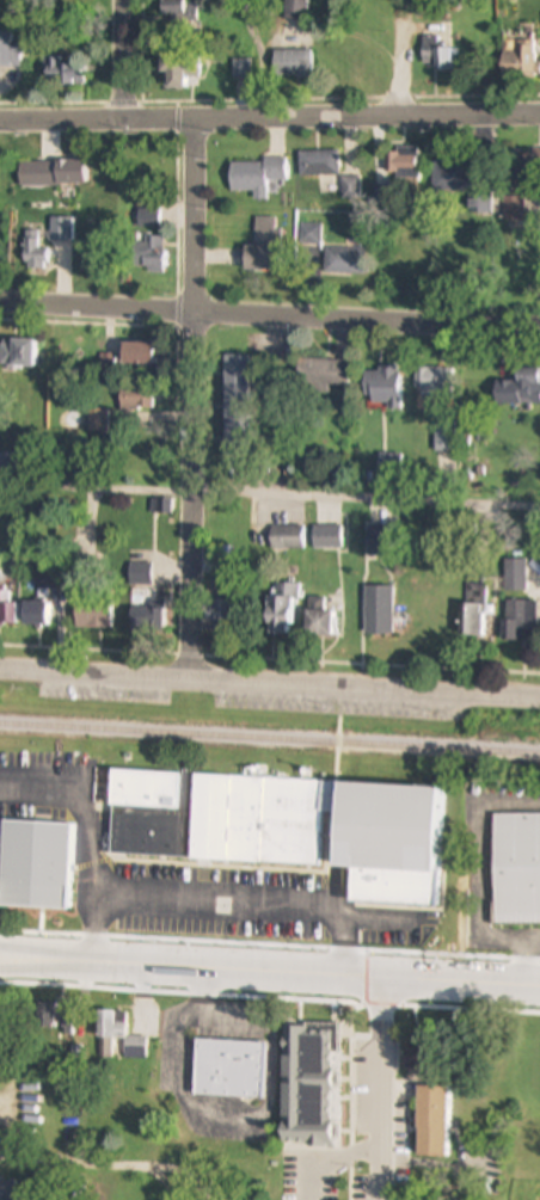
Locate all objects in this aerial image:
building: (180, 13)
building: (10, 50)
building: (438, 54)
road: (119, 60)
road: (406, 60)
building: (520, 62)
building: (293, 66)
building: (179, 68)
building: (66, 72)
road: (269, 117)
building: (319, 164)
building: (399, 167)
building: (51, 174)
building: (257, 176)
building: (452, 177)
building: (480, 205)
building: (513, 210)
building: (148, 220)
building: (61, 230)
building: (265, 247)
building: (309, 248)
building: (33, 252)
building: (148, 256)
building: (345, 261)
road: (270, 314)
building: (19, 353)
building: (136, 356)
building: (320, 375)
building: (434, 386)
building: (237, 387)
building: (382, 387)
building: (521, 389)
building: (136, 400)
road: (194, 400)
building: (98, 421)
building: (446, 441)
road: (269, 496)
building: (327, 537)
building: (288, 539)
building: (376, 541)
building: (140, 576)
building: (515, 576)
building: (50, 579)
building: (7, 609)
building: (282, 610)
building: (146, 613)
building: (379, 613)
building: (36, 615)
building: (93, 615)
building: (318, 619)
building: (472, 622)
building: (521, 622)
road: (269, 685)
road: (339, 737)
railway: (269, 739)
building: (289, 829)
building: (36, 866)
building: (516, 870)
road: (159, 904)
road: (98, 930)
road: (270, 971)
building: (45, 1023)
building: (68, 1029)
building: (119, 1039)
building: (228, 1071)
building: (306, 1084)
road: (380, 1089)
building: (431, 1124)
road: (109, 1163)
building: (8, 1192)

